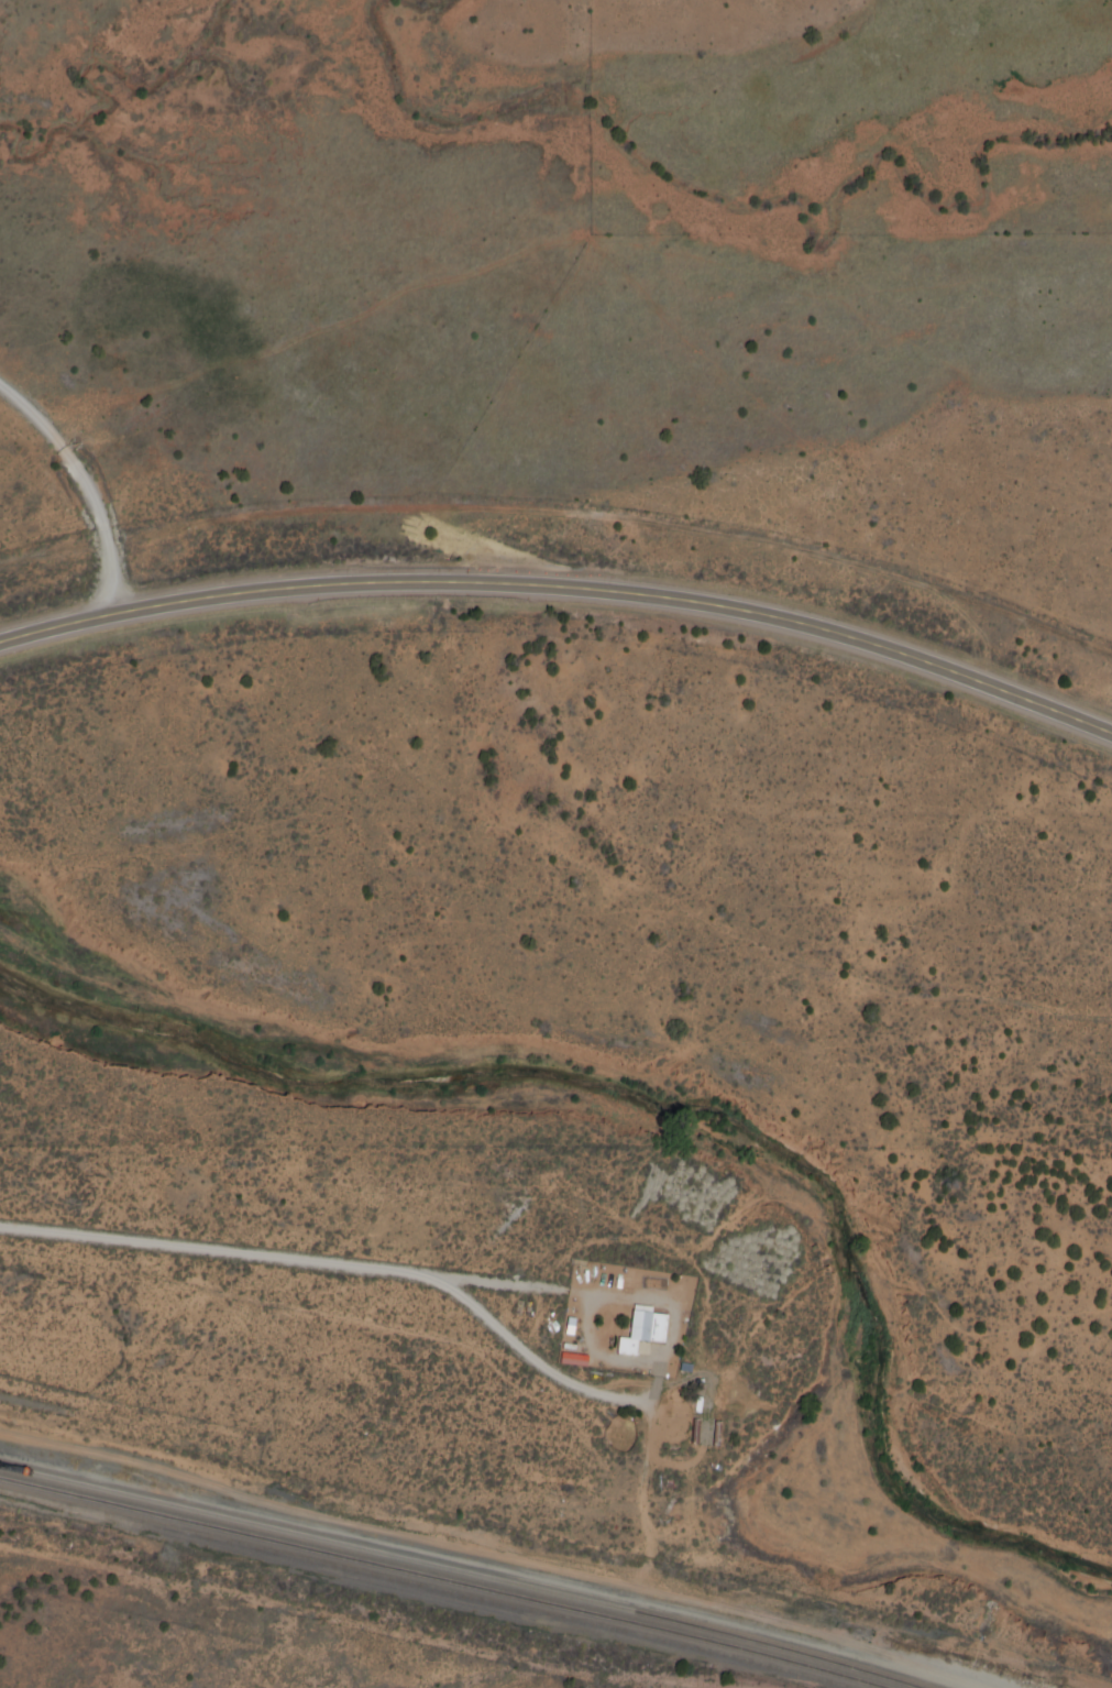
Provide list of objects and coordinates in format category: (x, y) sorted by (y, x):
road: (80, 489)
road: (564, 590)
road: (282, 1261)
building: (638, 1331)
road: (528, 1358)
building: (569, 1361)
road: (640, 1482)
road: (320, 1511)
railway: (261, 1522)
railway: (260, 1535)
railway: (727, 1632)
railway: (707, 1640)

